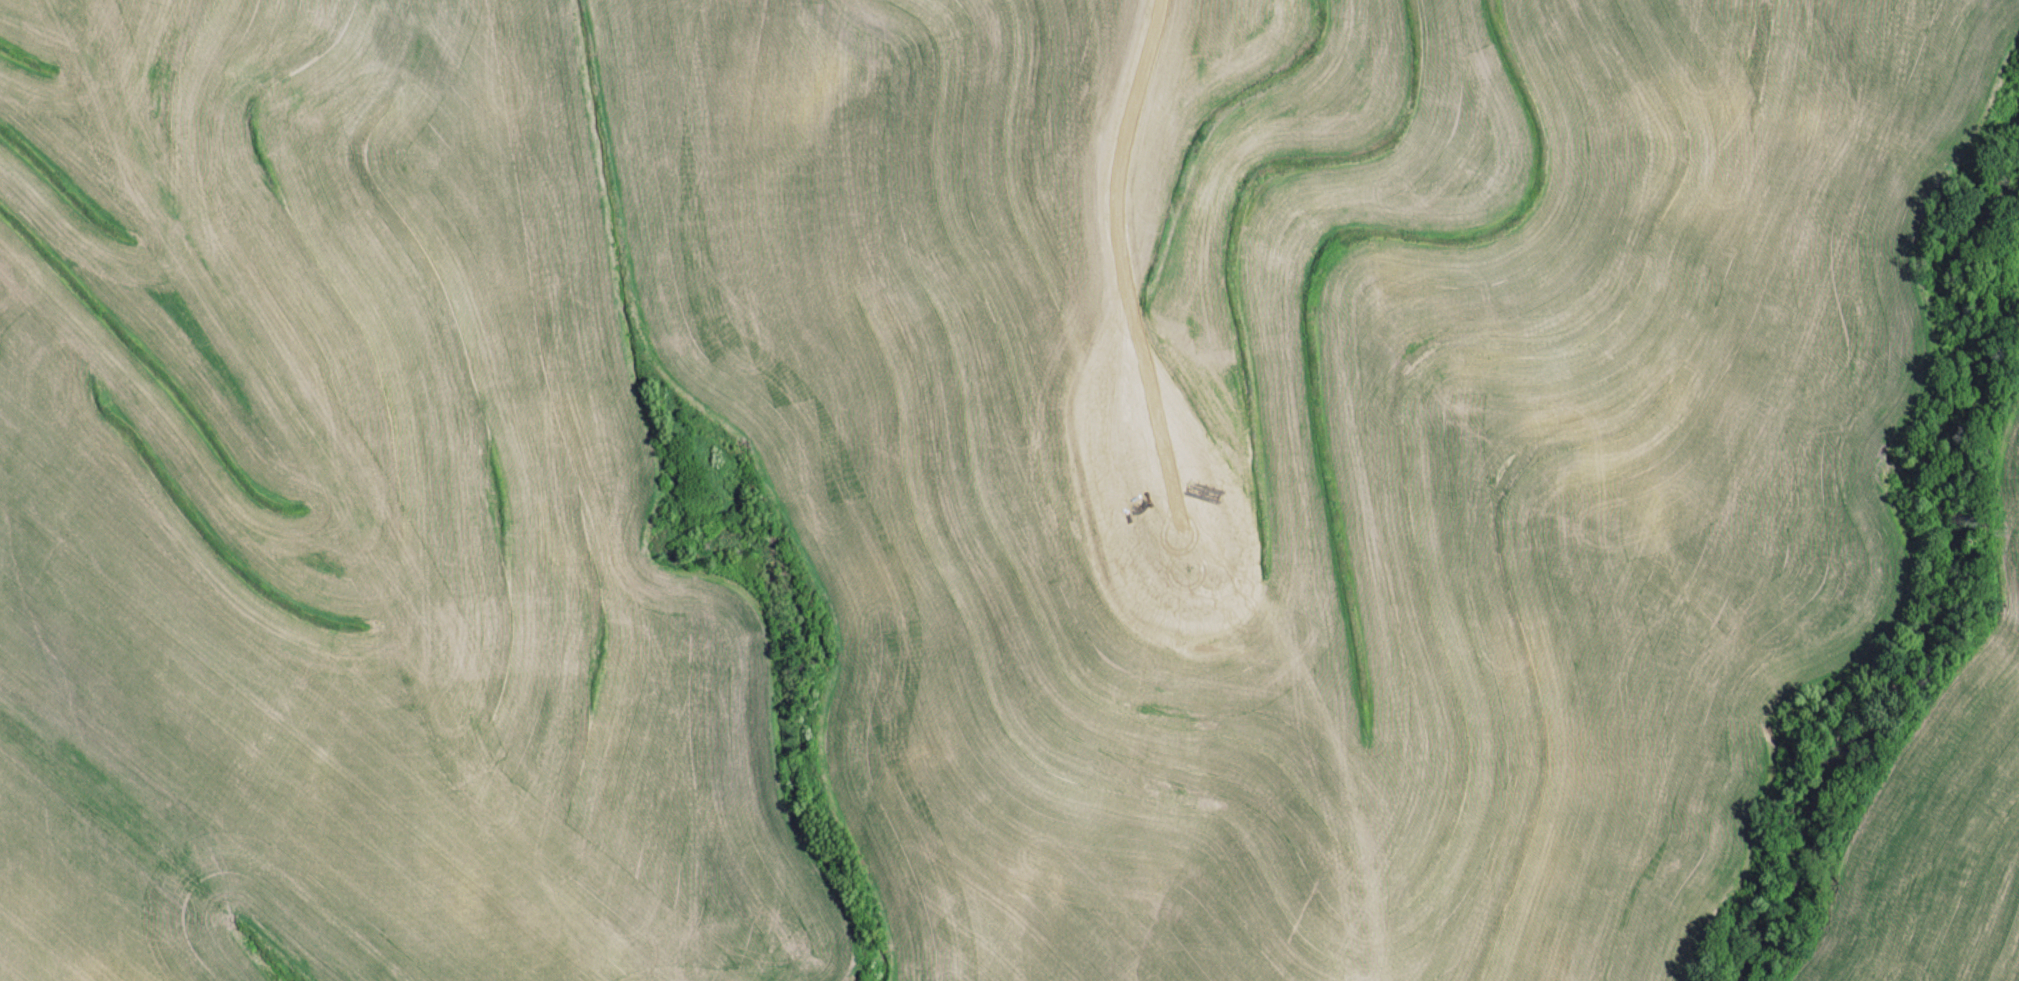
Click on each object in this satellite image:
wind turbine: (1196, 556)

